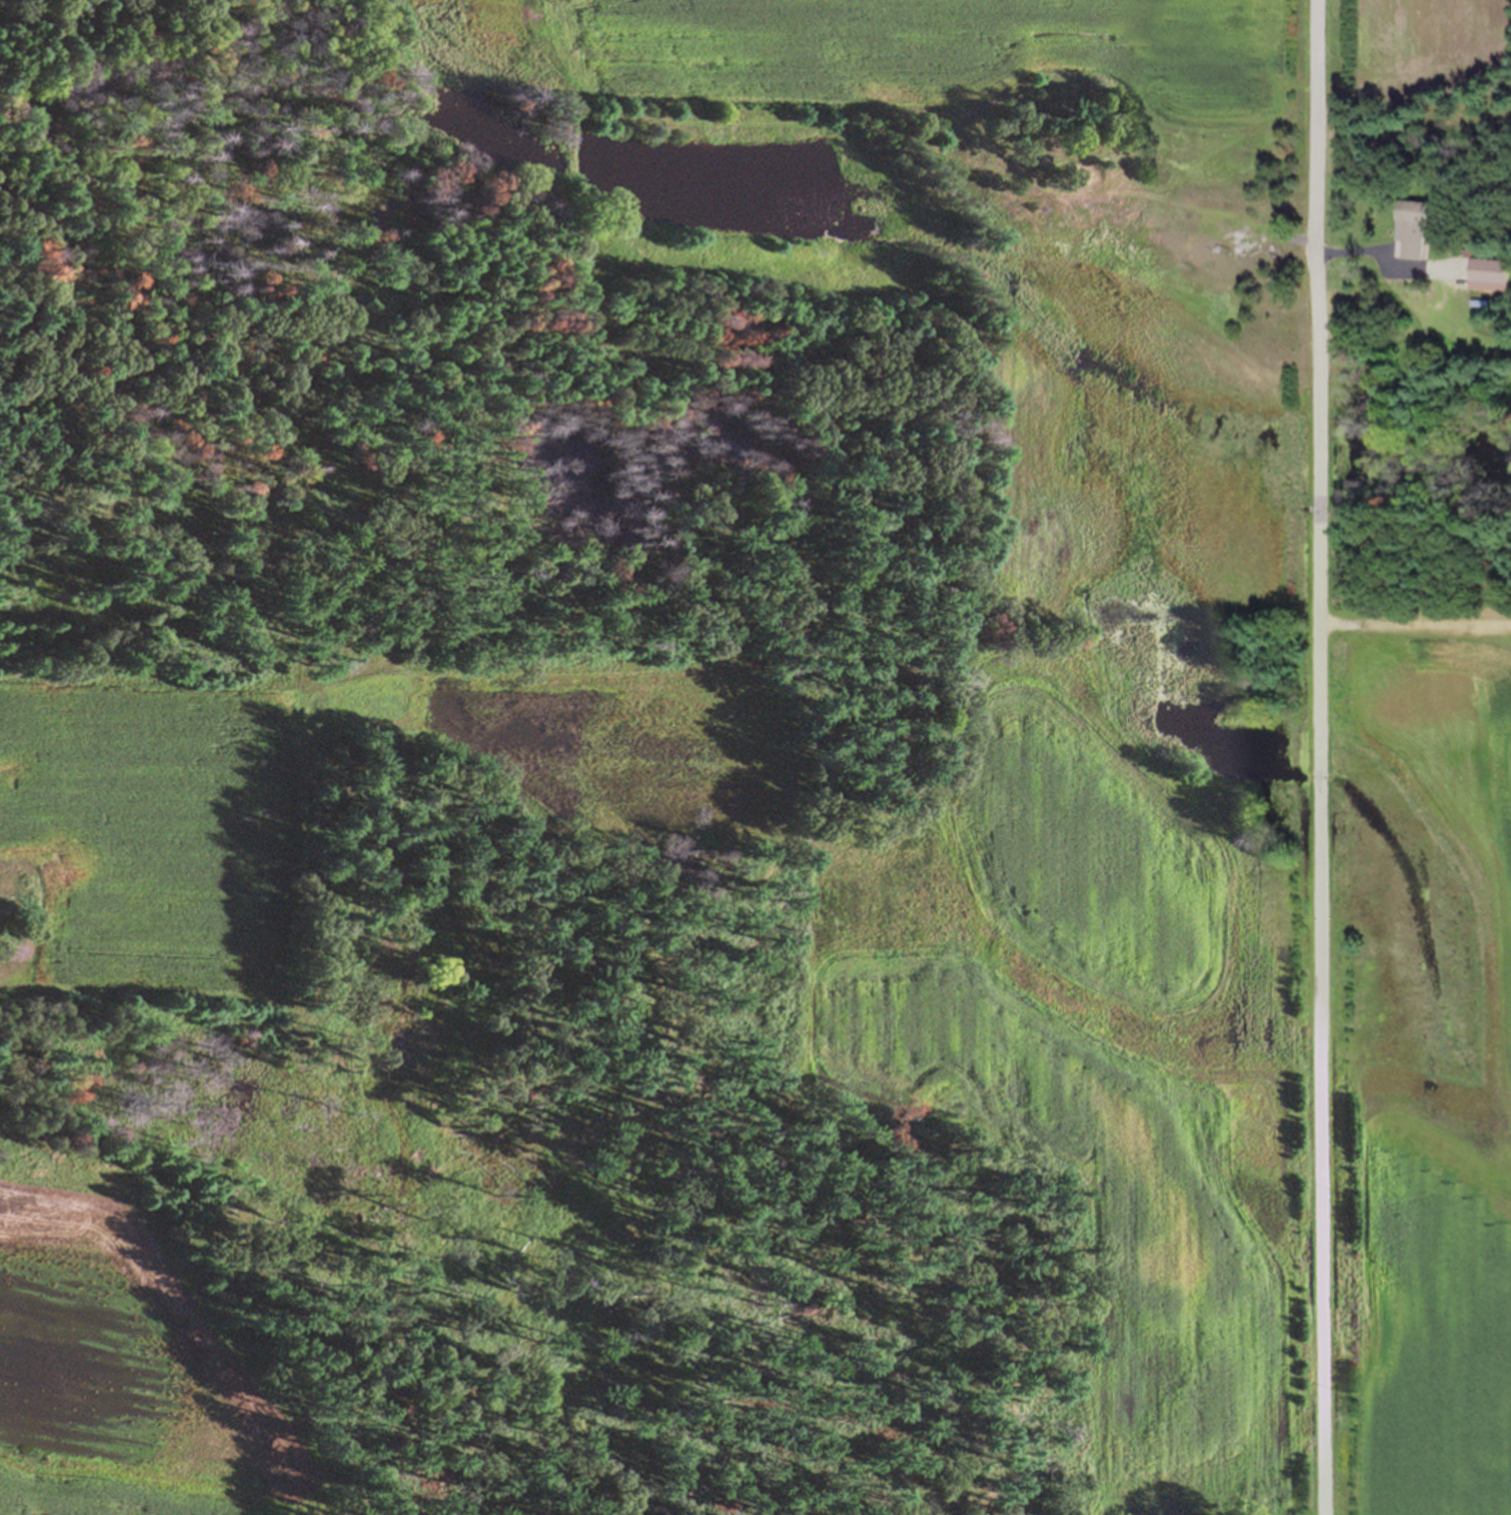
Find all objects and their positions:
building: (1412, 232)
building: (1489, 272)
road: (1413, 622)
road: (1317, 757)

